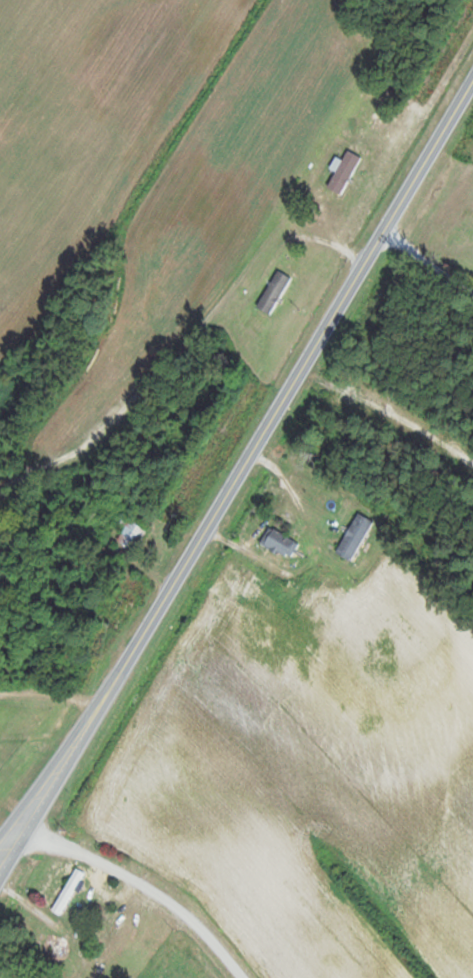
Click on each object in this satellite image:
building: (346, 172)
building: (275, 292)
road: (288, 393)
building: (133, 534)
building: (354, 541)
building: (280, 543)
road: (51, 769)
road: (51, 787)
building: (68, 890)
building: (104, 891)
building: (52, 950)

